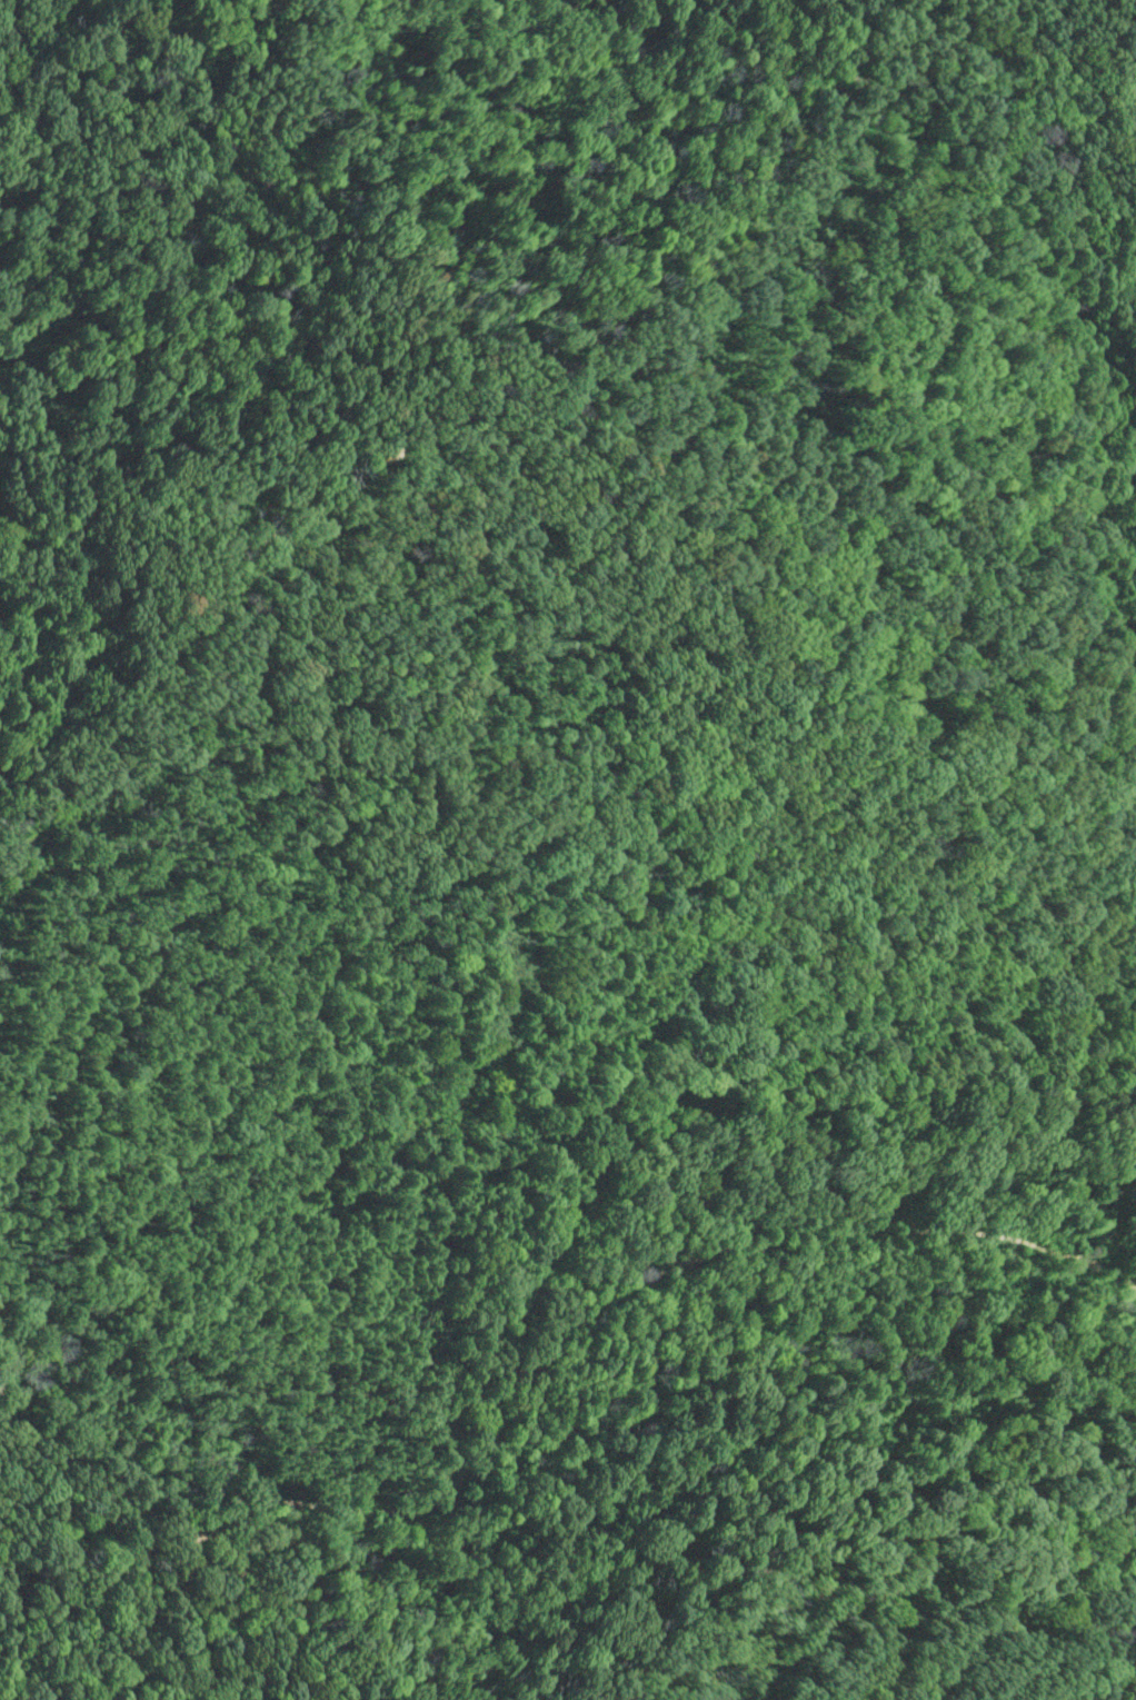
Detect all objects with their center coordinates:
road: (619, 1284)
road: (203, 1544)

